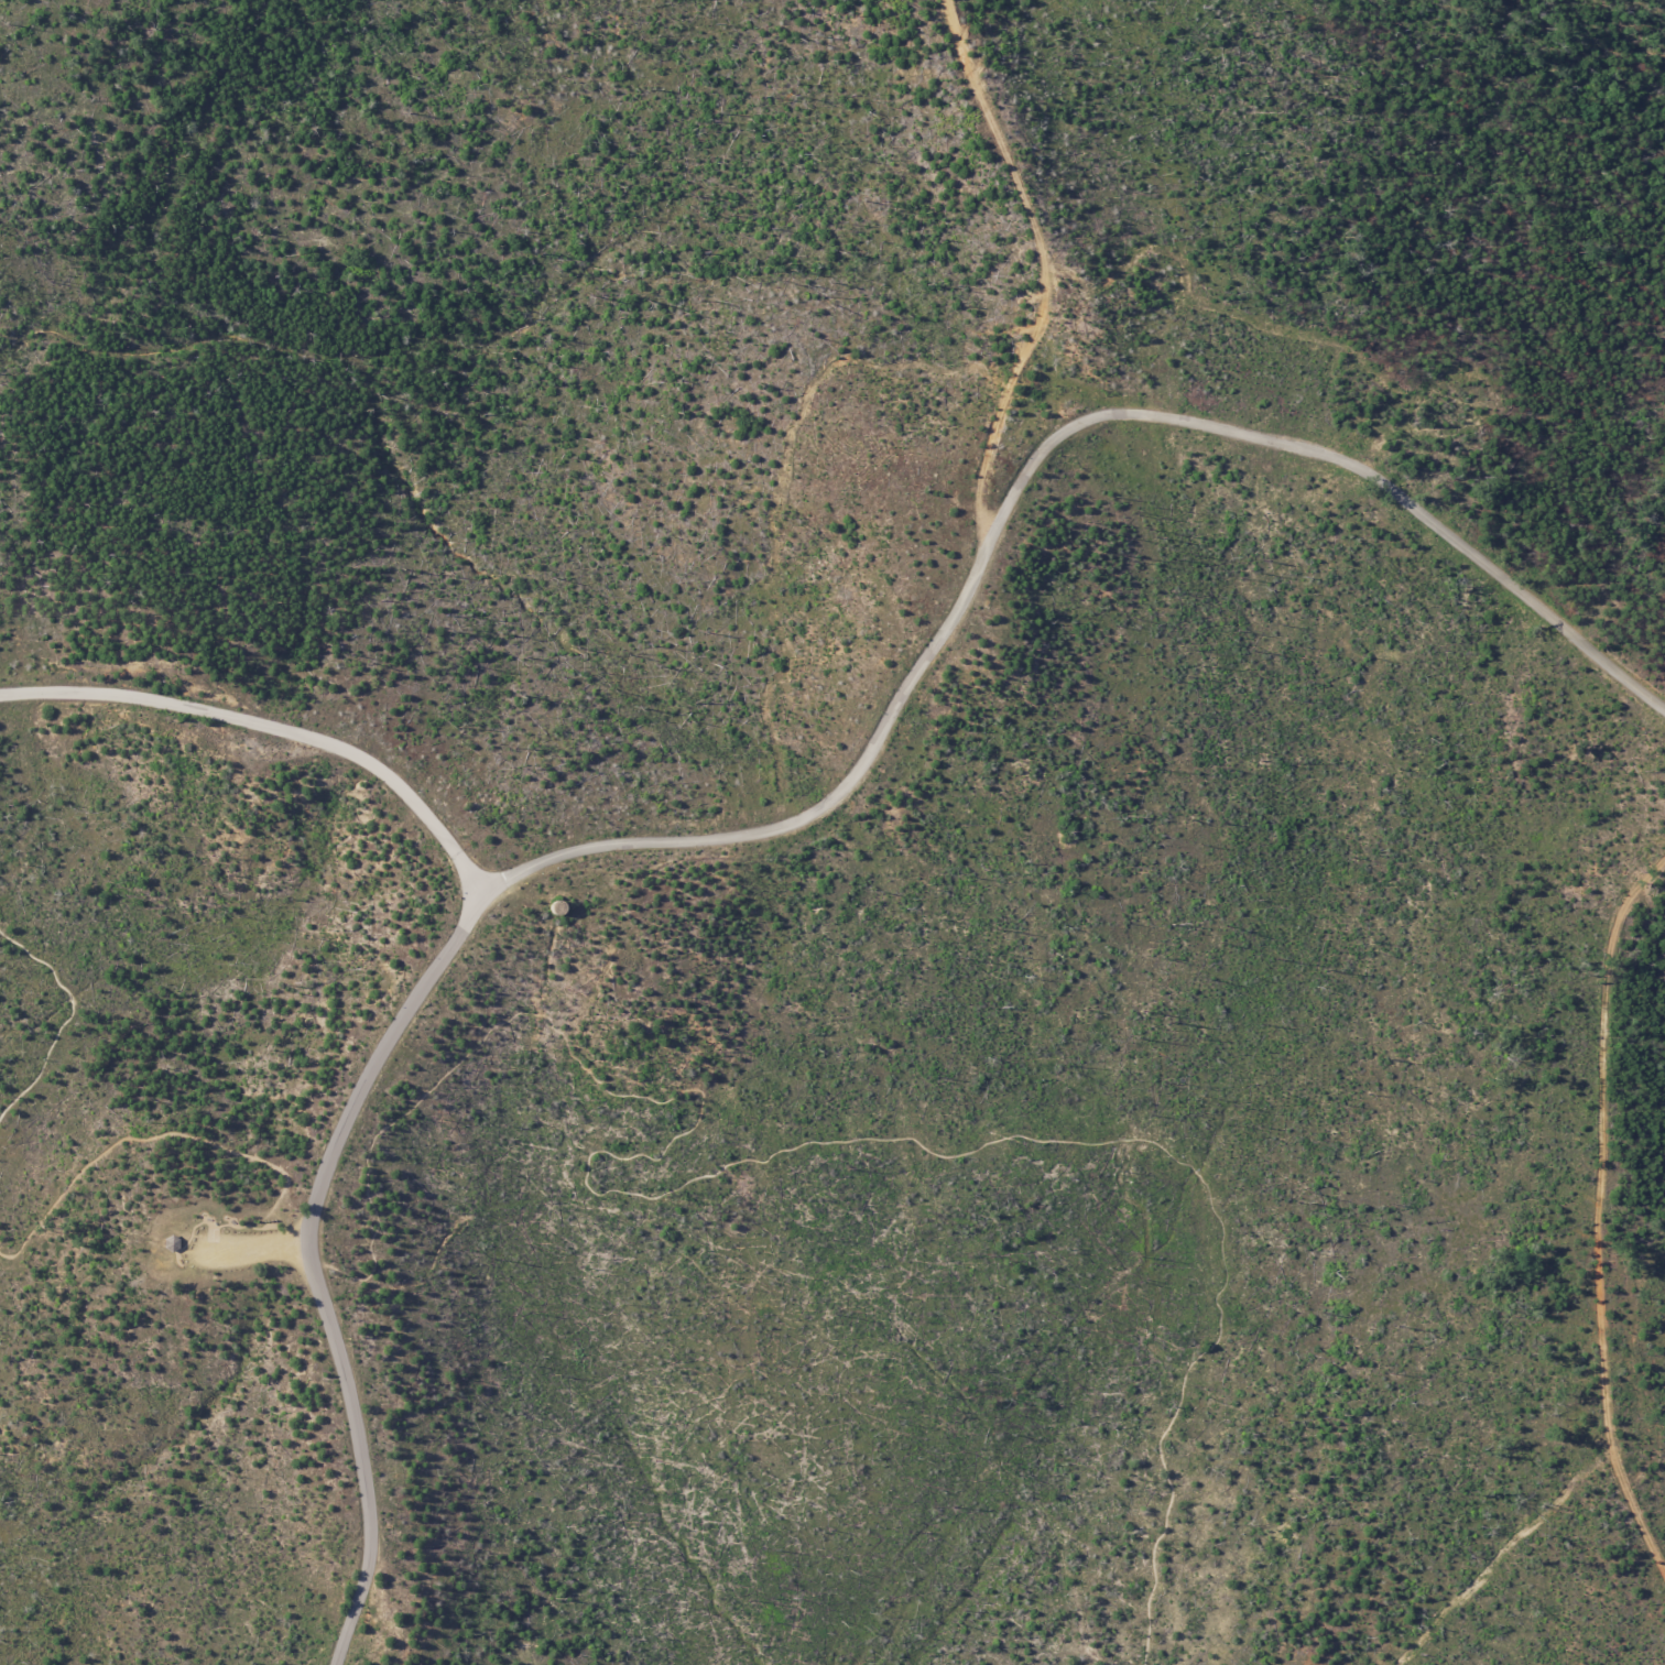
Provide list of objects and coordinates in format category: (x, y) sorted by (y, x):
road: (1026, 467)
road: (273, 728)
park: (833, 833)
road: (67, 1014)
road: (188, 1132)
road: (762, 1153)
road: (1595, 1209)
road: (255, 1245)
road: (311, 1260)
parking lot: (230, 1261)

